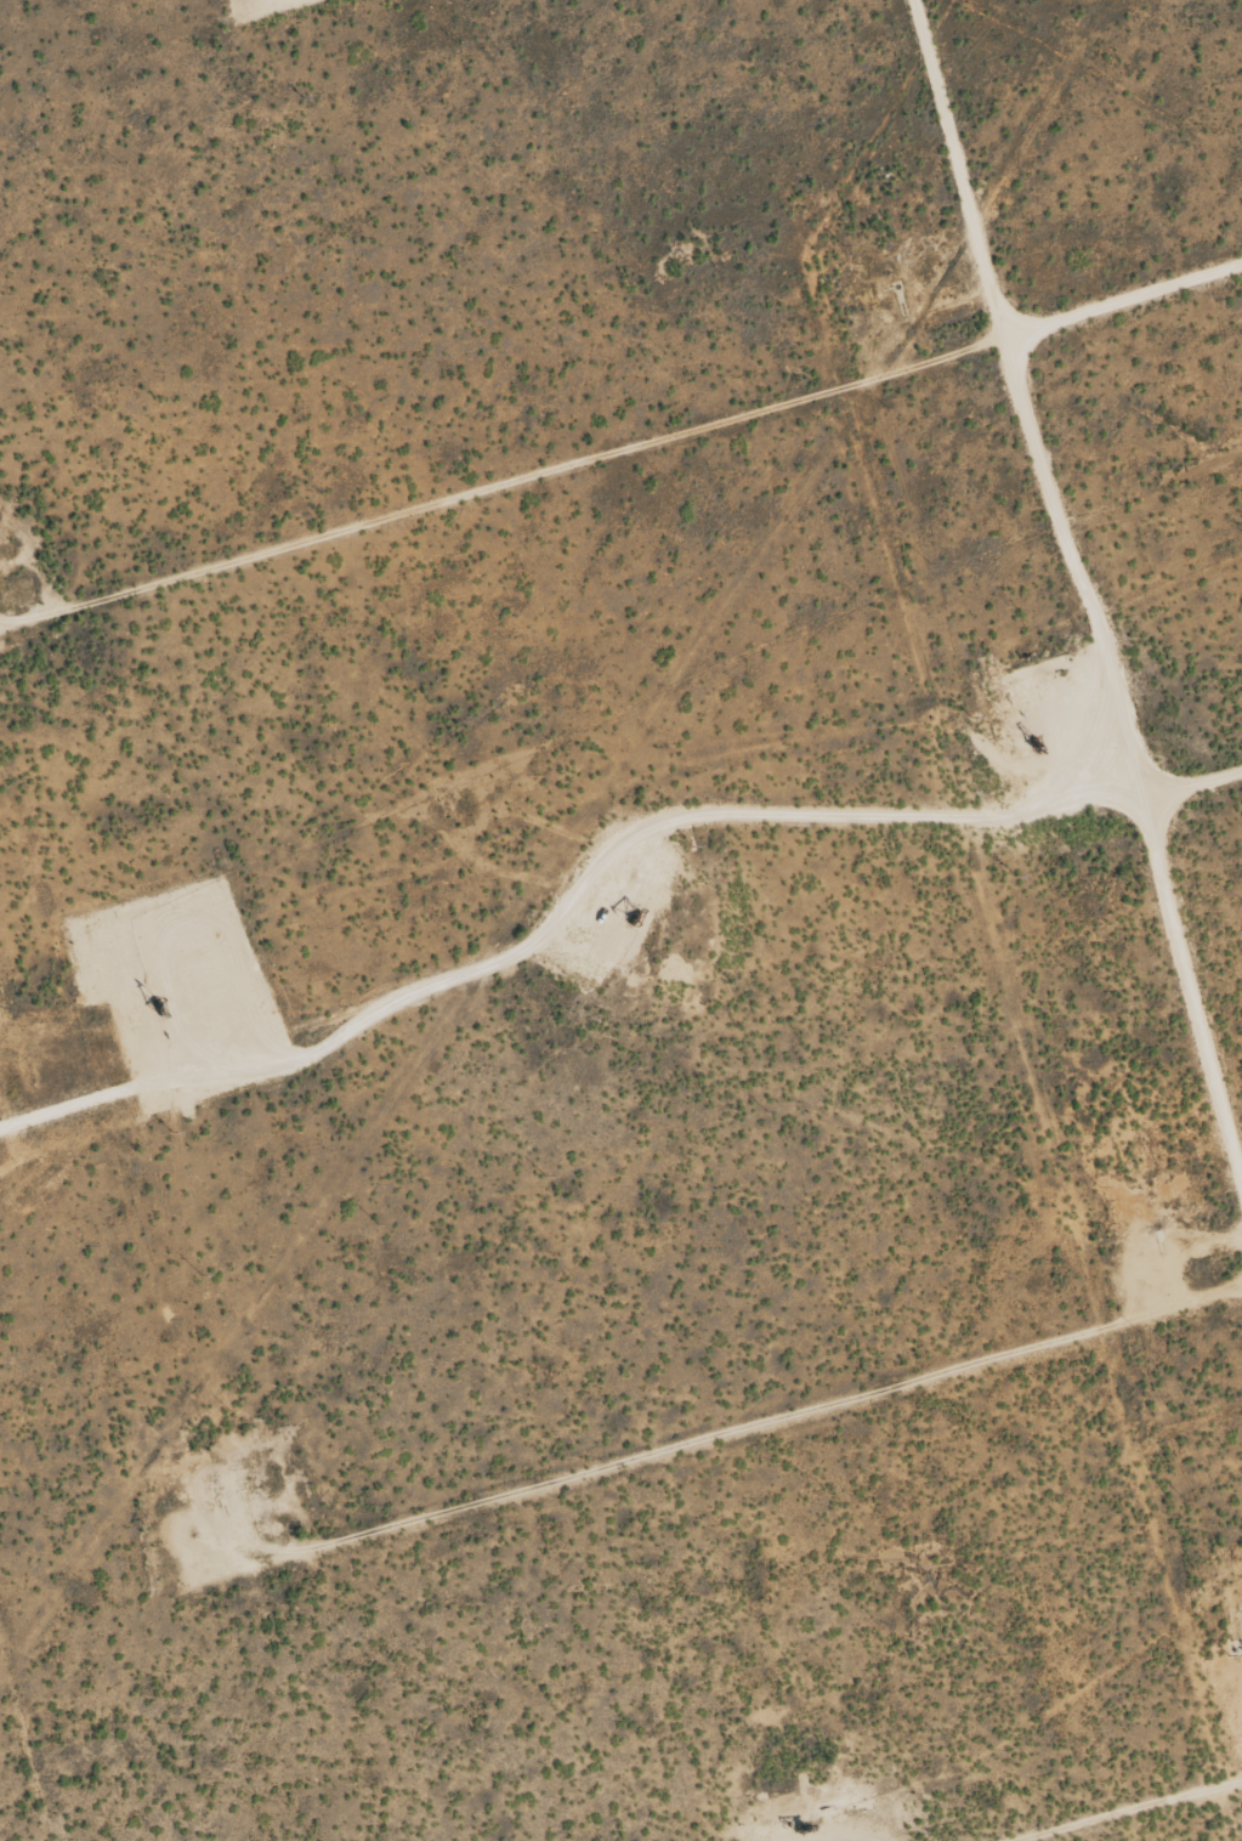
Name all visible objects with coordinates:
road: (640, 441)
road: (1078, 595)
road: (755, 1421)

